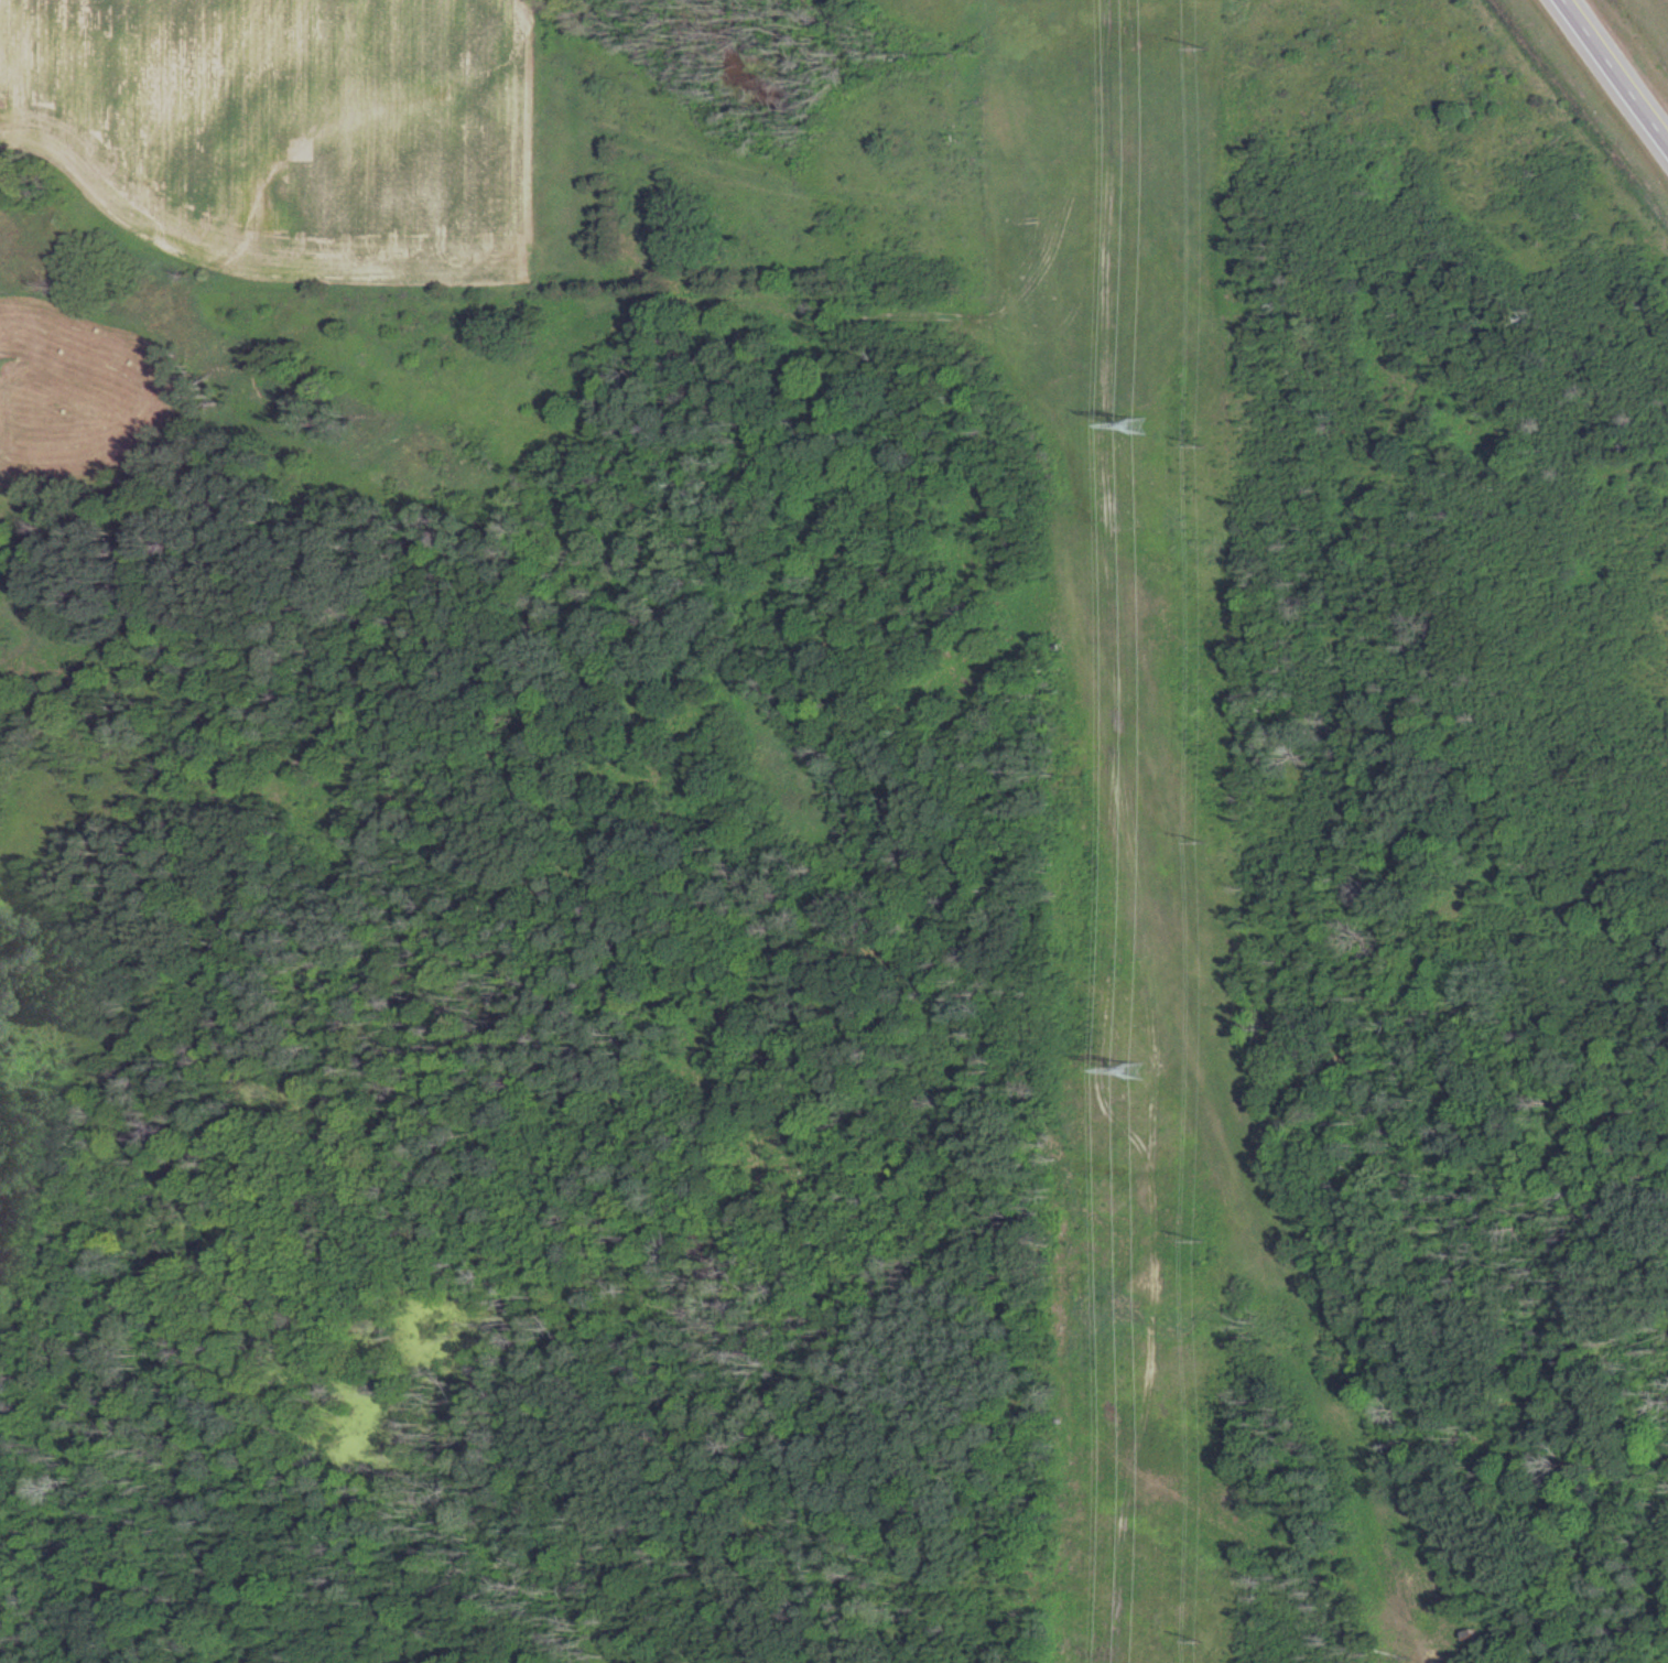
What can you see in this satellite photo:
road: (1618, 68)
power tower: (1138, 419)
power tower: (1133, 1065)

